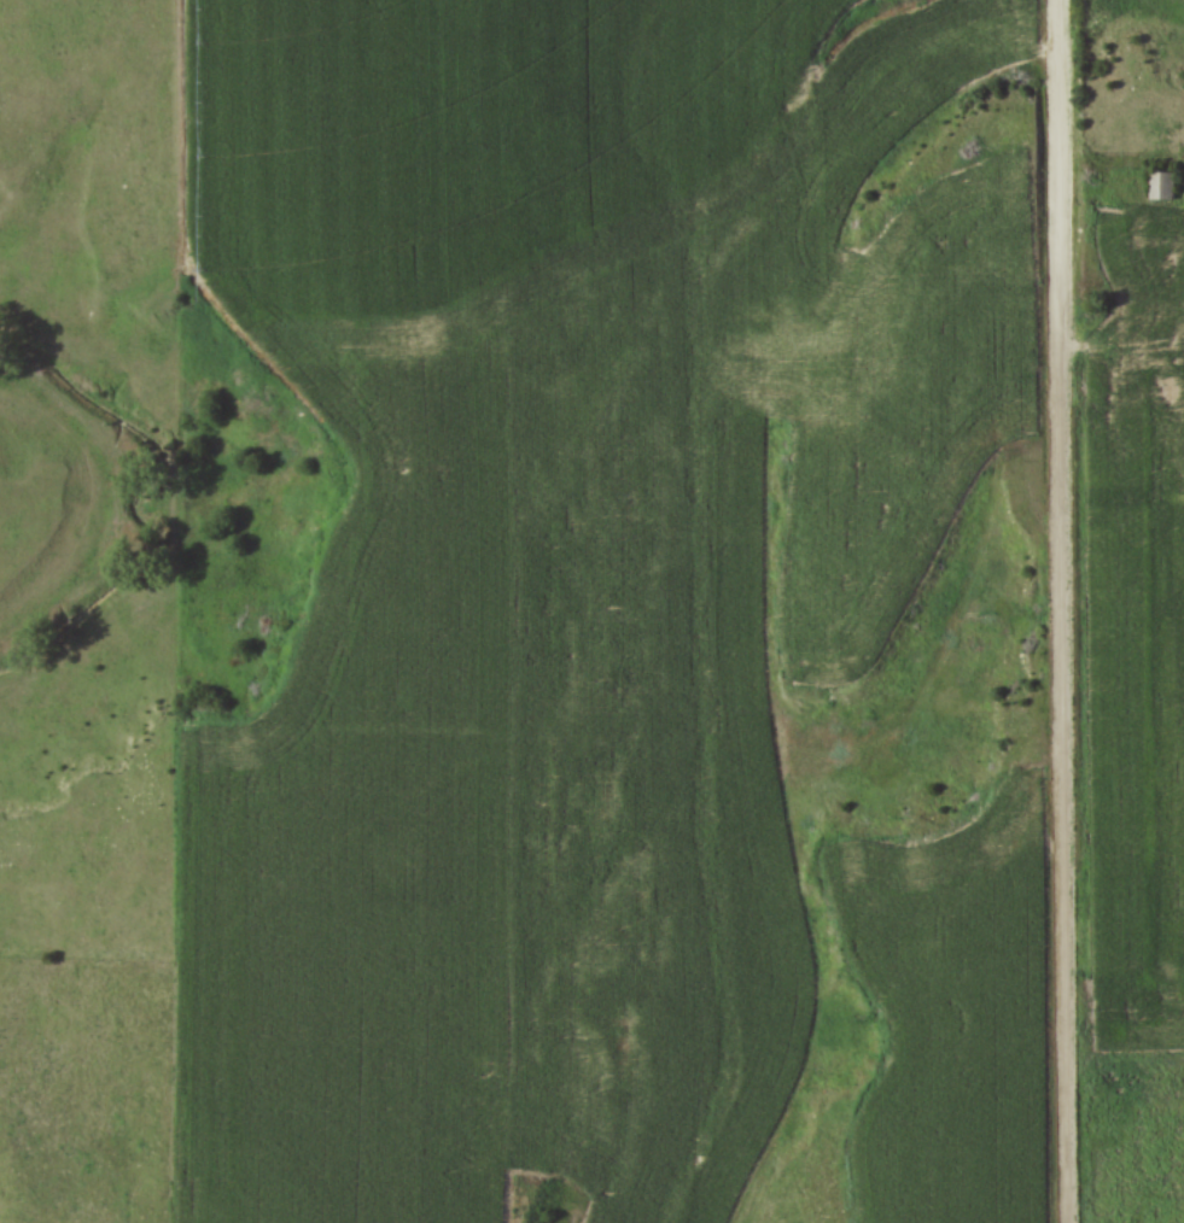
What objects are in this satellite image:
building: (1162, 187)
road: (1066, 610)

